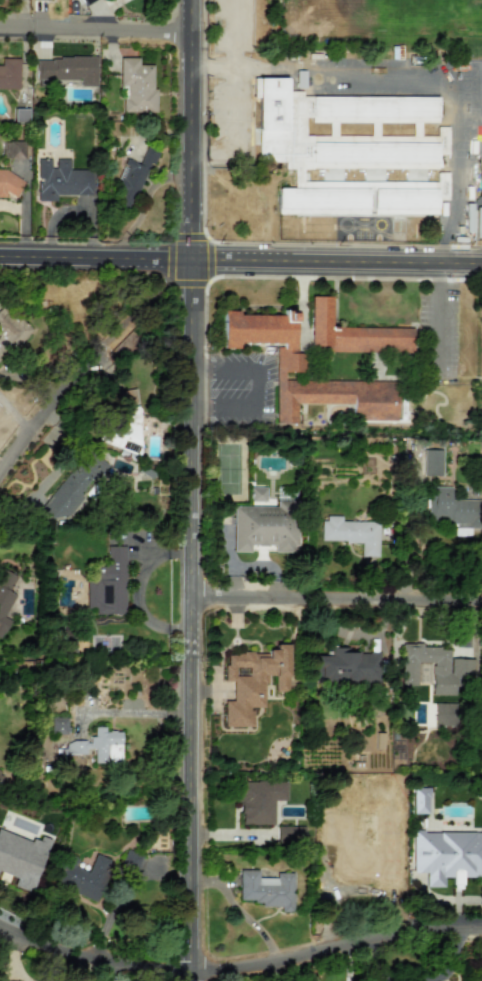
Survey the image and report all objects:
building: (46, 0)
building: (85, 2)
road: (96, 30)
road: (229, 32)
building: (67, 68)
building: (9, 73)
road: (350, 78)
building: (136, 85)
road: (228, 110)
building: (20, 115)
park: (344, 120)
building: (343, 129)
road: (193, 130)
road: (454, 146)
building: (12, 149)
building: (131, 178)
building: (60, 180)
building: (9, 183)
building: (410, 198)
building: (321, 200)
building: (478, 221)
road: (452, 224)
road: (96, 258)
road: (337, 262)
road: (170, 269)
road: (132, 307)
road: (437, 319)
building: (352, 333)
building: (0, 355)
building: (288, 362)
road: (200, 364)
road: (232, 365)
road: (256, 387)
road: (49, 396)
road: (200, 409)
road: (233, 409)
building: (124, 422)
building: (432, 462)
building: (73, 486)
building: (257, 494)
building: (450, 508)
building: (264, 526)
building: (351, 533)
building: (107, 583)
building: (5, 597)
road: (337, 601)
road: (191, 620)
building: (346, 666)
building: (434, 667)
building: (252, 681)
building: (444, 714)
building: (59, 725)
building: (98, 746)
building: (1, 774)
building: (419, 799)
building: (259, 800)
building: (290, 833)
building: (446, 855)
building: (358, 856)
building: (21, 858)
building: (130, 859)
building: (82, 876)
building: (266, 888)
road: (238, 971)

